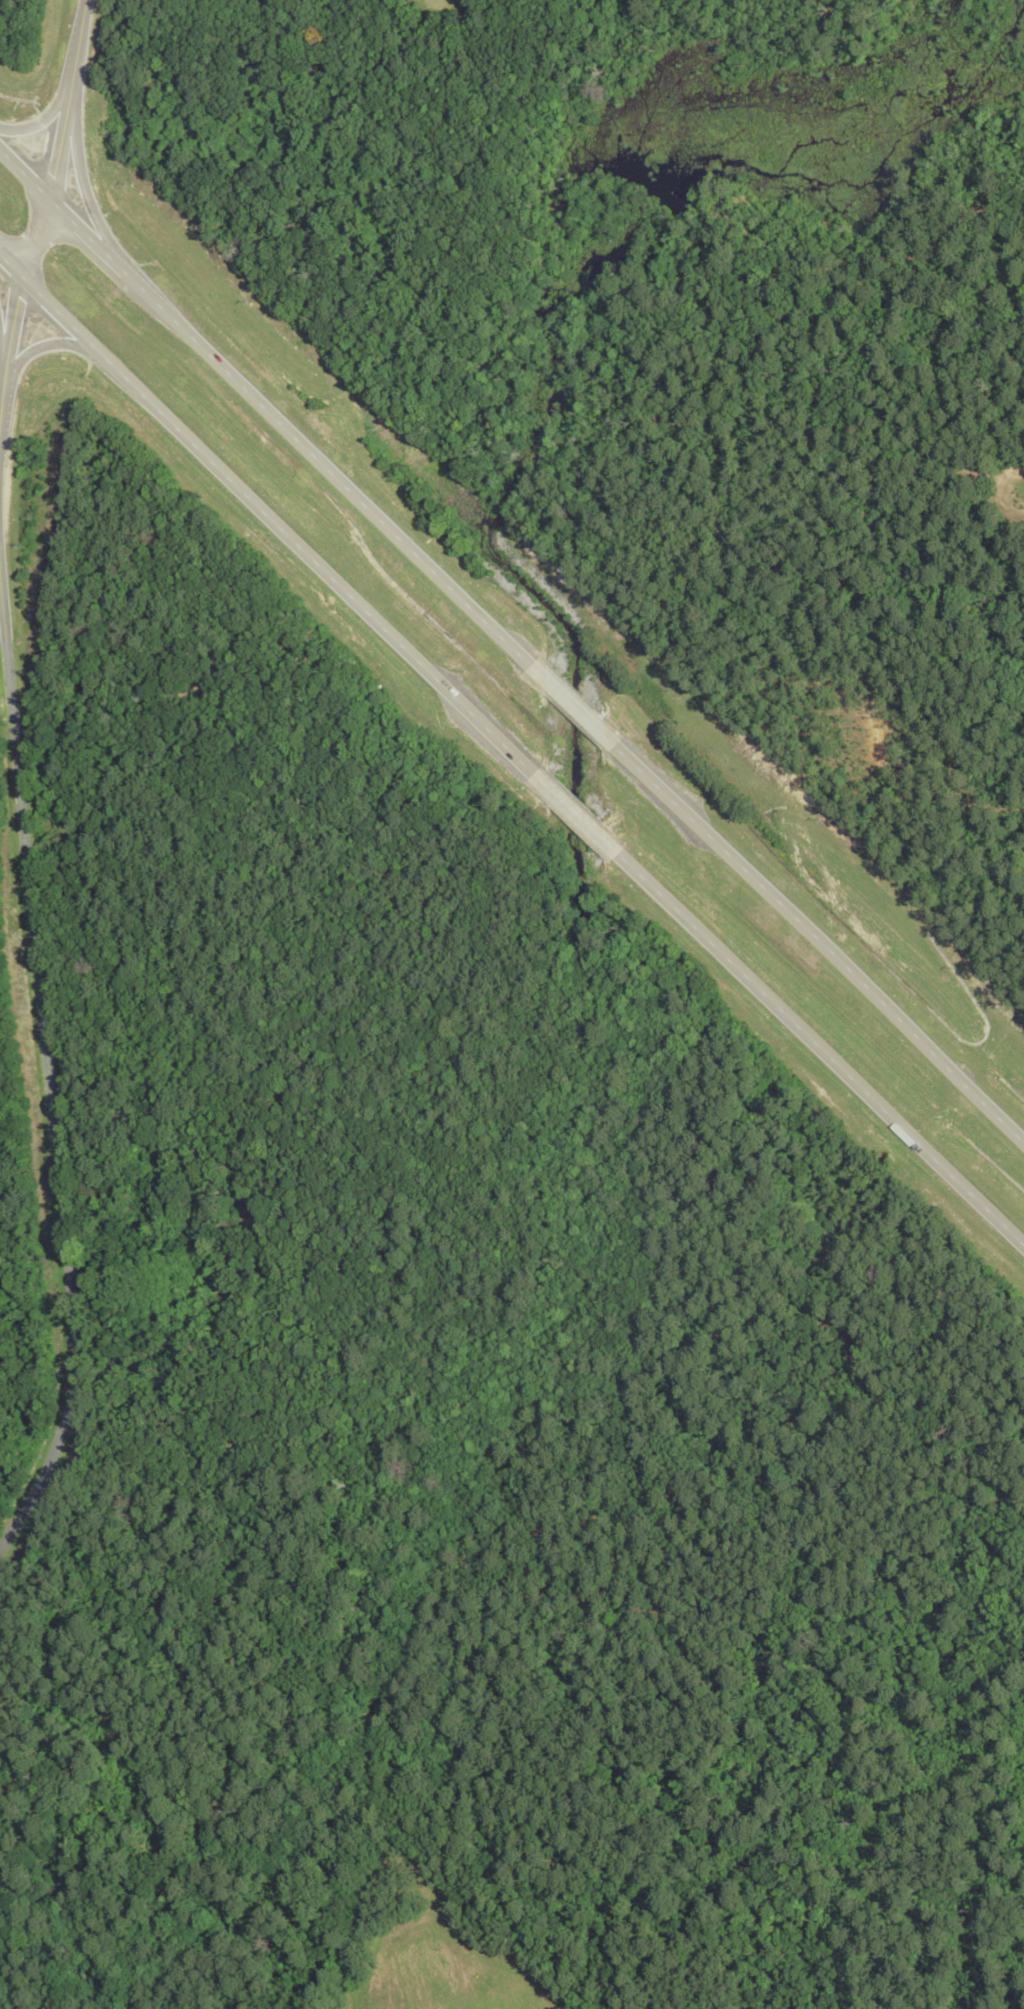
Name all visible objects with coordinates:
road: (37, 125)
road: (24, 176)
road: (81, 188)
road: (49, 201)
road: (79, 231)
road: (10, 267)
road: (129, 279)
road: (41, 344)
road: (2, 347)
road: (340, 482)
road: (278, 525)
road: (573, 706)
road: (578, 813)
road: (819, 944)
road: (821, 1049)
road: (47, 1077)

